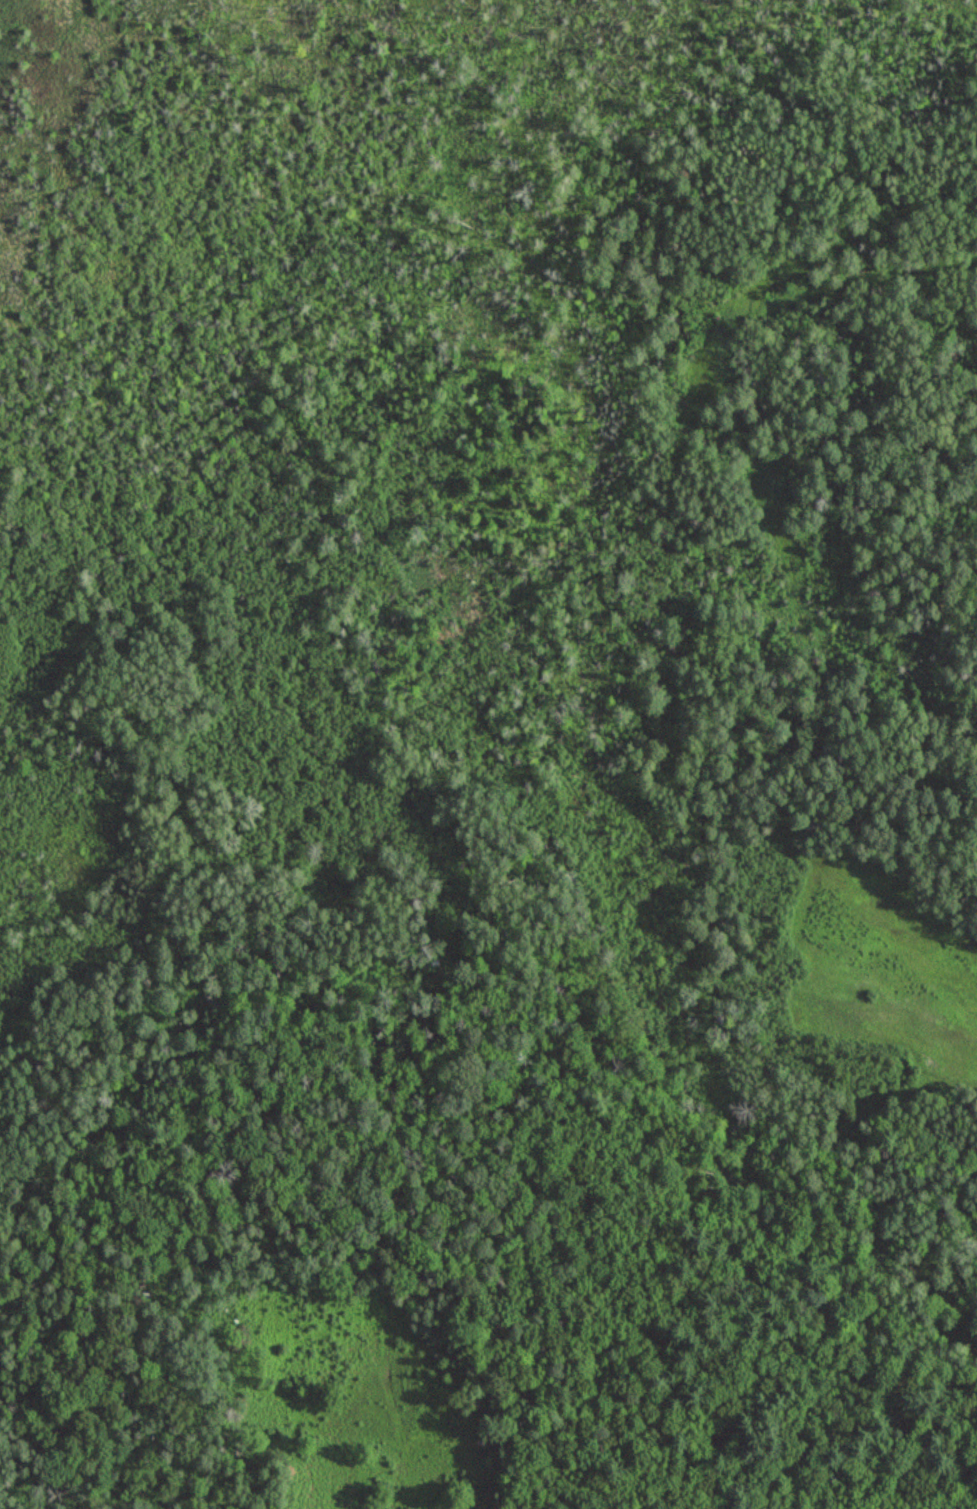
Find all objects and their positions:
road: (856, 1230)

